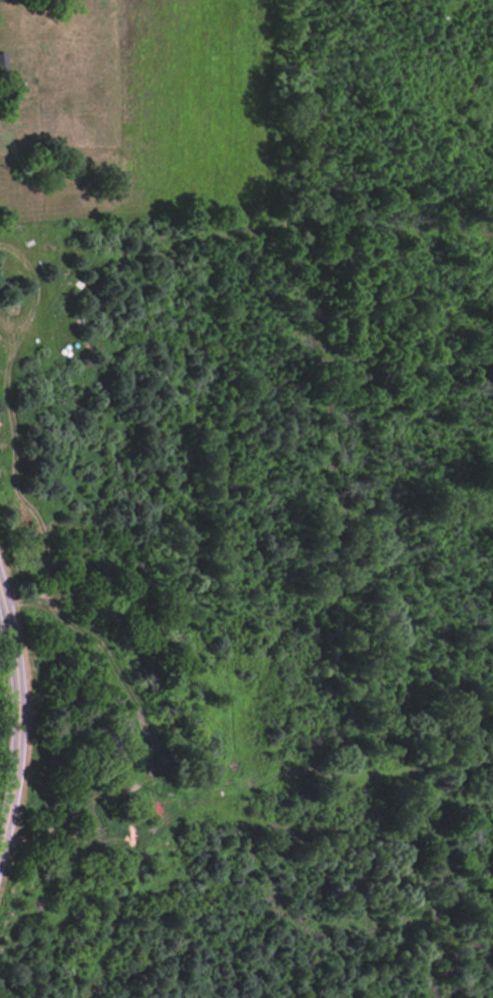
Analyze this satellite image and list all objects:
building: (2, 61)
road: (14, 706)

